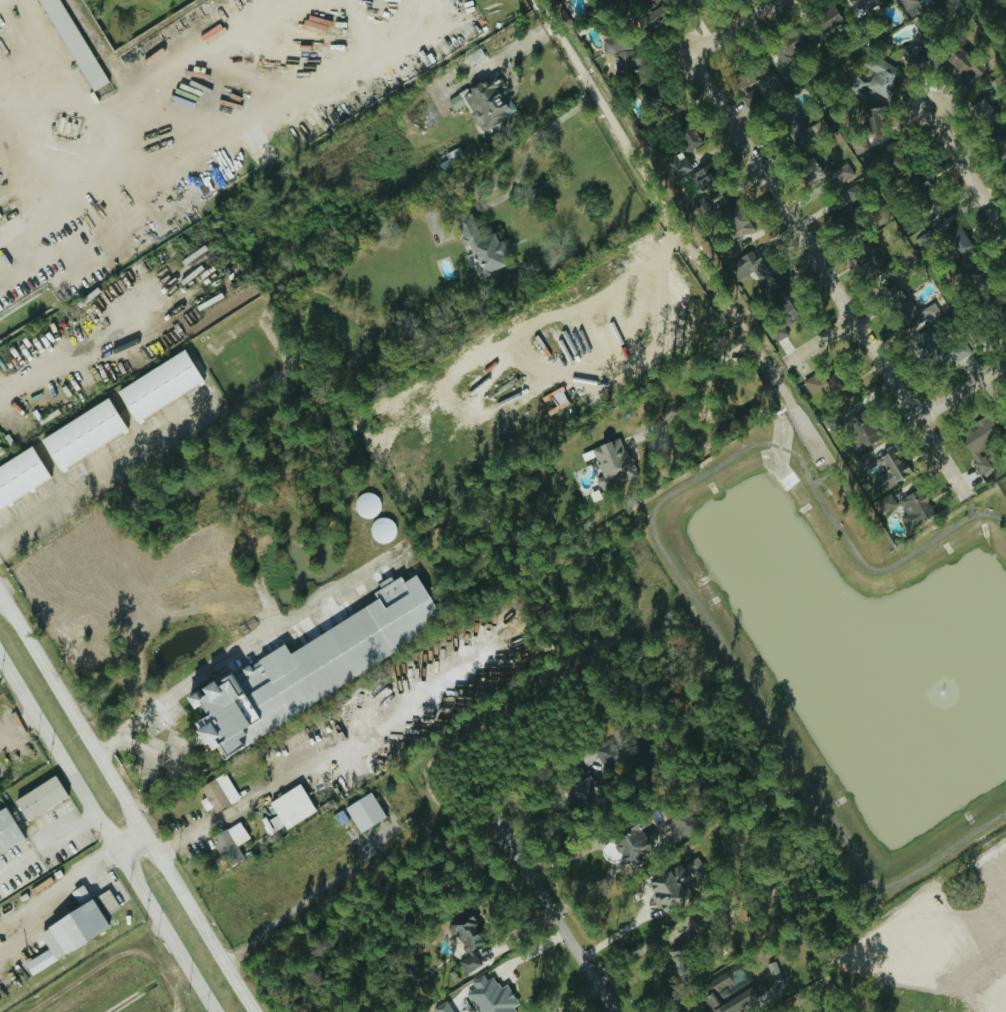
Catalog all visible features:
building: (598, 1)
building: (869, 4)
building: (909, 6)
building: (826, 19)
road: (732, 28)
building: (70, 44)
building: (784, 50)
building: (618, 52)
building: (910, 55)
building: (961, 62)
road: (583, 74)
building: (750, 76)
building: (880, 79)
building: (748, 98)
building: (487, 102)
building: (982, 112)
building: (865, 128)
building: (791, 129)
building: (681, 155)
road: (528, 167)
building: (814, 167)
building: (843, 170)
road: (967, 171)
building: (700, 177)
road: (45, 178)
building: (733, 221)
building: (954, 240)
building: (478, 247)
building: (758, 271)
road: (712, 280)
road: (829, 281)
building: (909, 309)
building: (939, 347)
road: (824, 349)
road: (704, 385)
building: (156, 386)
road: (962, 387)
building: (556, 400)
road: (804, 419)
building: (850, 432)
building: (80, 435)
building: (978, 443)
road: (822, 450)
building: (611, 462)
building: (861, 462)
building: (892, 465)
building: (19, 476)
road: (88, 483)
road: (828, 485)
building: (912, 510)
road: (974, 513)
road: (682, 571)
park: (853, 644)
road: (217, 659)
building: (311, 663)
fountain: (944, 688)
building: (604, 753)
road: (307, 768)
building: (581, 789)
building: (216, 793)
building: (37, 798)
road: (83, 799)
road: (126, 802)
building: (362, 812)
building: (289, 814)
building: (678, 821)
building: (7, 830)
building: (632, 841)
building: (228, 843)
road: (46, 844)
building: (694, 869)
road: (81, 870)
building: (667, 887)
road: (16, 921)
road: (555, 921)
building: (698, 925)
building: (67, 930)
building: (464, 933)
building: (772, 971)
road: (193, 974)
building: (715, 988)
building: (488, 997)
building: (441, 1008)

